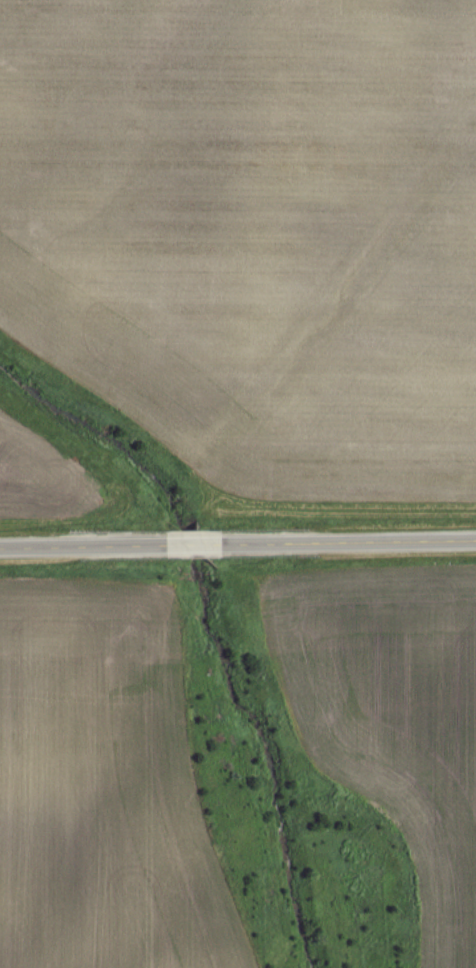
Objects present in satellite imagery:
road: (238, 544)

